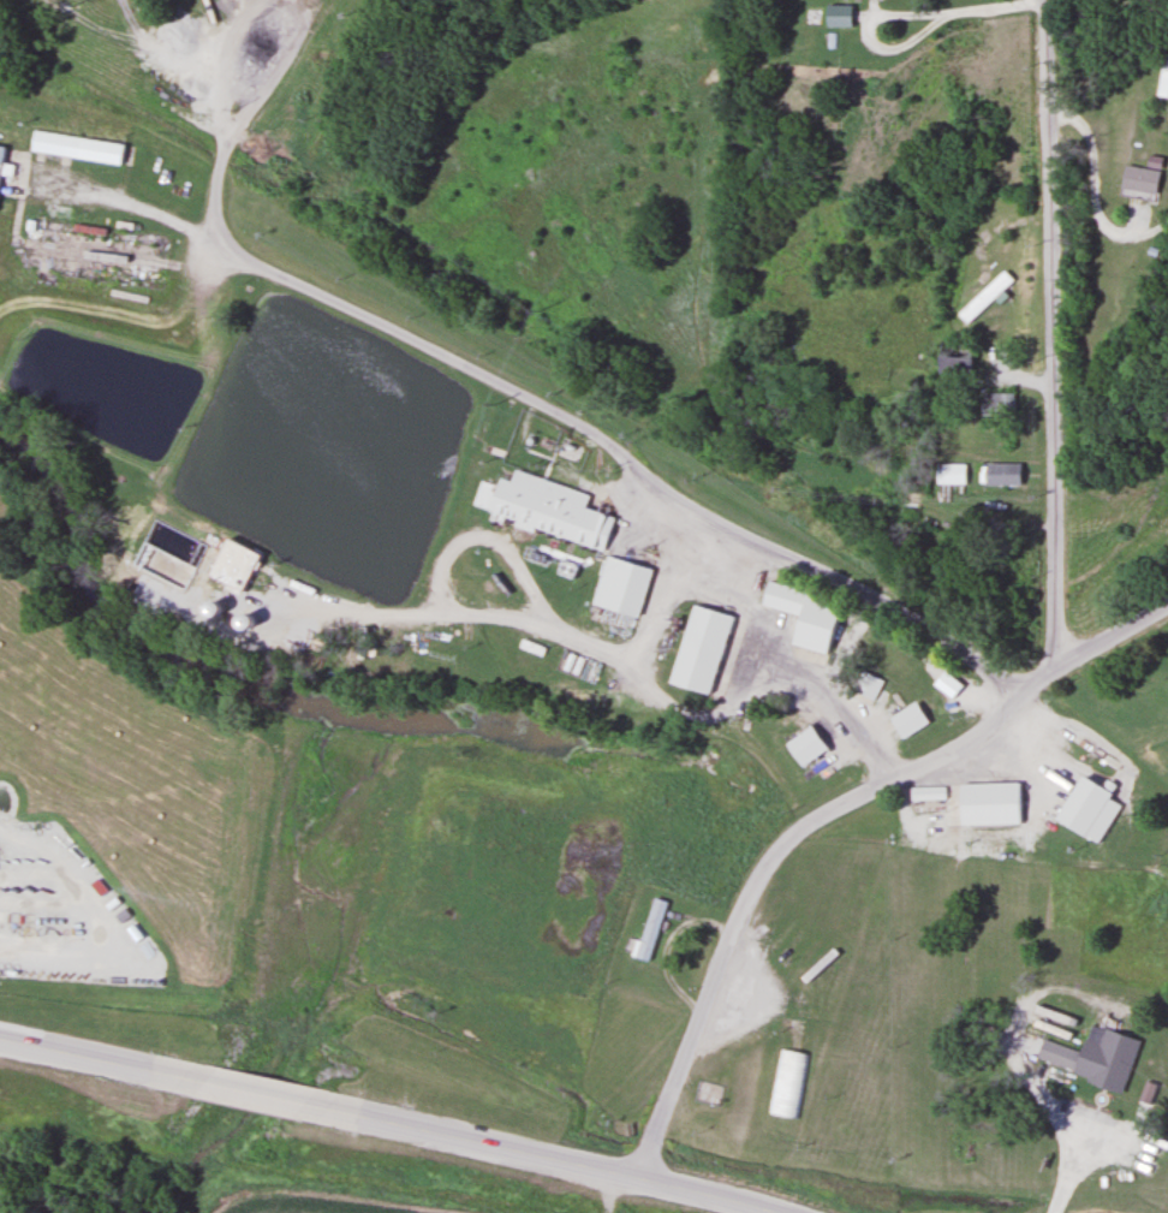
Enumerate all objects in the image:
road: (947, 14)
building: (1162, 78)
building: (73, 149)
building: (4, 166)
building: (1139, 179)
road: (1090, 185)
road: (121, 202)
building: (983, 296)
road: (1050, 331)
building: (953, 356)
building: (996, 402)
road: (624, 457)
building: (949, 472)
building: (999, 472)
building: (546, 509)
building: (231, 565)
building: (618, 587)
building: (208, 608)
building: (801, 614)
road: (1118, 631)
building: (697, 649)
building: (864, 684)
building: (906, 719)
building: (988, 803)
road: (775, 852)
building: (649, 929)
building: (1083, 1054)
building: (787, 1083)
road: (388, 1123)
crop: (359, 1208)

